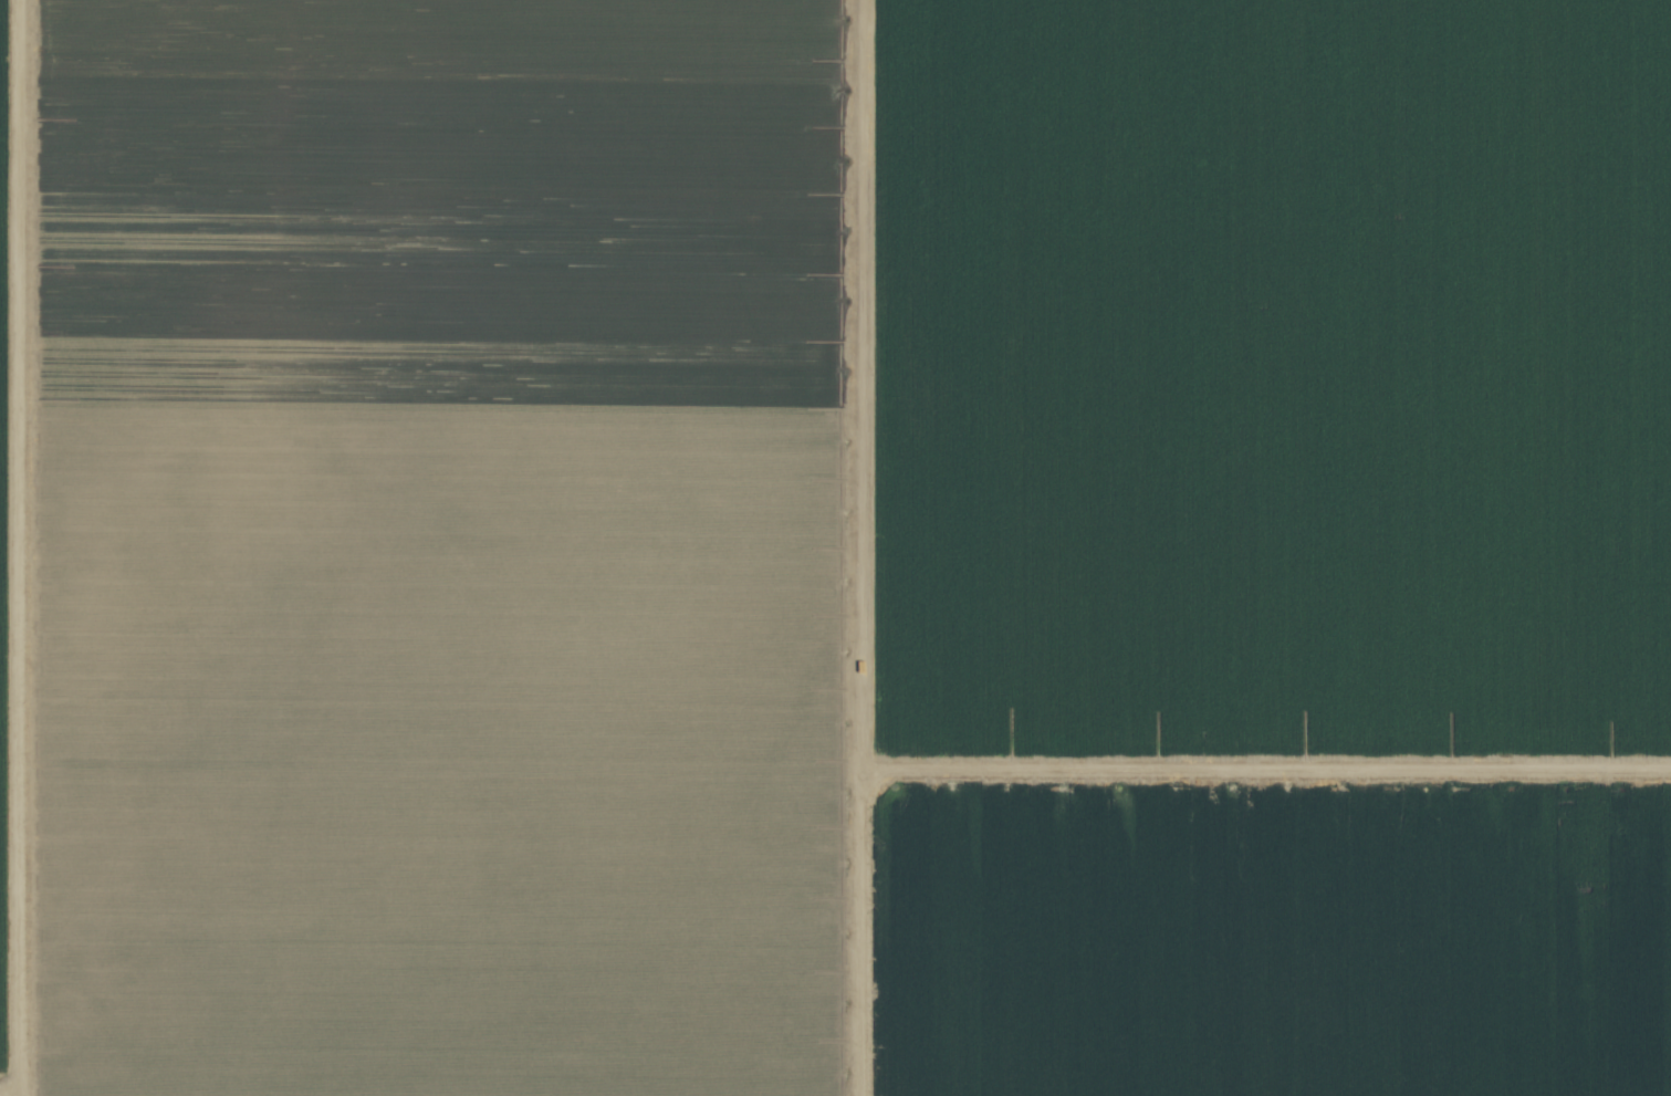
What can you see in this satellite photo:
crop: (835, 547)
road: (866, 547)
road: (1268, 765)

